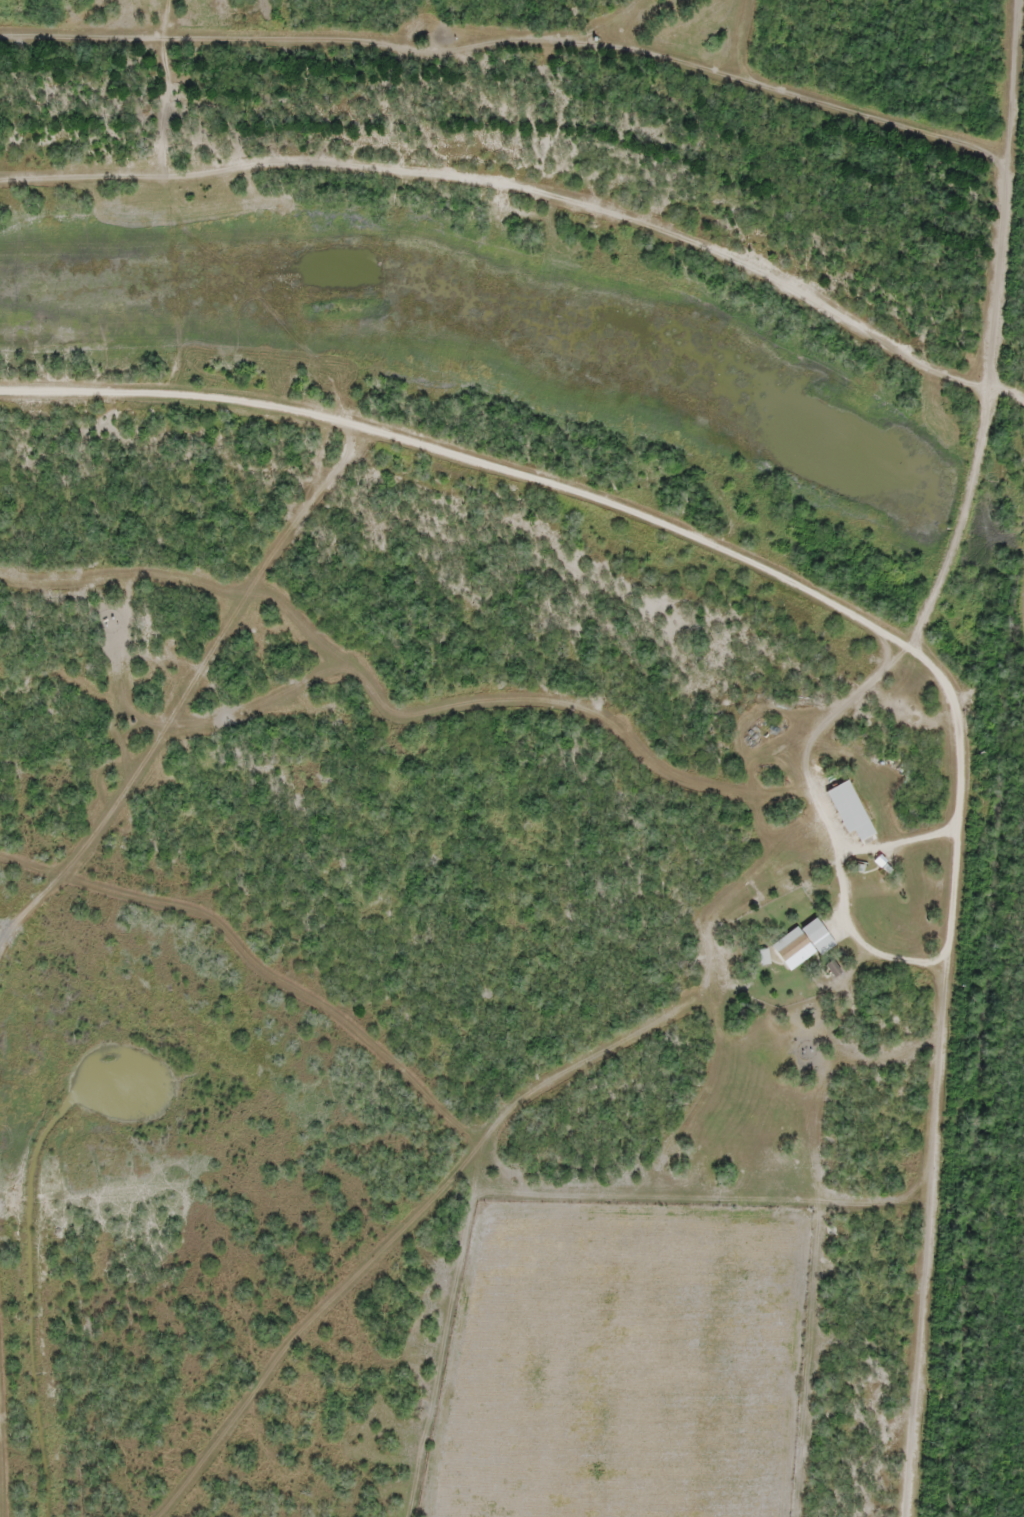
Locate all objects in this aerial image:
building: (847, 809)
building: (801, 943)
road: (55, 1059)

